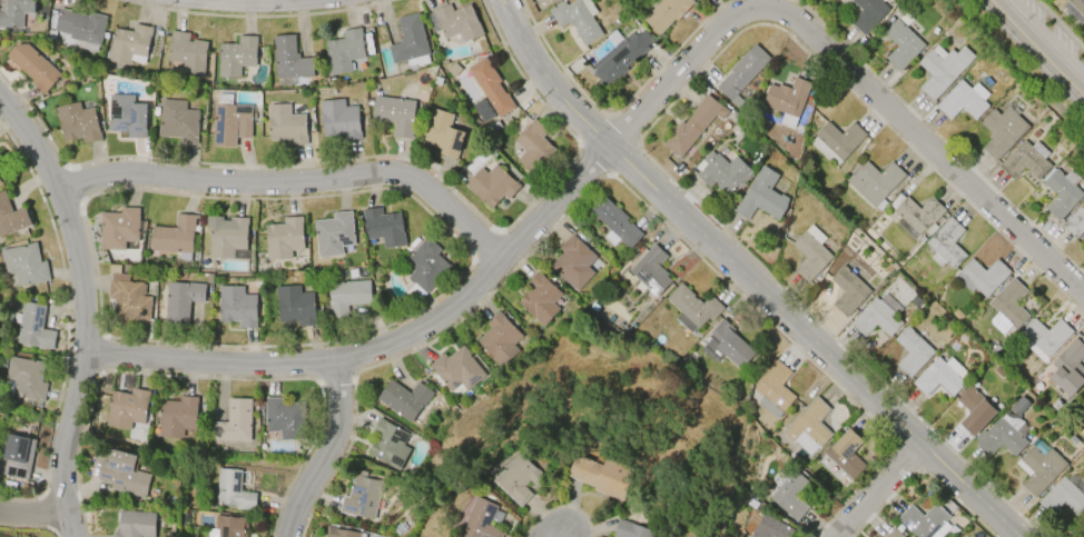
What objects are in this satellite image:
building: (1075, 8)
building: (13, 12)
building: (666, 13)
building: (867, 13)
building: (578, 19)
building: (455, 21)
building: (80, 28)
building: (410, 42)
building: (127, 43)
road: (1041, 43)
building: (901, 44)
building: (344, 50)
building: (185, 54)
building: (236, 57)
building: (620, 57)
building: (288, 59)
building: (33, 67)
building: (940, 69)
building: (742, 73)
building: (490, 87)
building: (787, 100)
building: (963, 100)
building: (395, 113)
building: (127, 116)
building: (338, 119)
building: (178, 121)
building: (77, 122)
building: (231, 123)
building: (285, 125)
building: (691, 126)
building: (1002, 131)
building: (443, 135)
building: (836, 141)
building: (532, 147)
road: (934, 153)
building: (1025, 160)
building: (722, 171)
road: (297, 178)
building: (874, 181)
building: (491, 186)
building: (1061, 192)
building: (761, 196)
building: (917, 213)
building: (11, 217)
building: (1075, 221)
building: (613, 222)
building: (384, 227)
building: (119, 228)
building: (333, 233)
building: (174, 236)
building: (226, 236)
building: (283, 238)
building: (946, 245)
building: (810, 253)
building: (573, 262)
building: (23, 263)
building: (423, 269)
building: (650, 270)
building: (980, 277)
road: (746, 278)
road: (477, 281)
building: (847, 290)
building: (127, 297)
building: (345, 298)
building: (539, 298)
building: (181, 300)
building: (237, 306)
building: (295, 306)
road: (82, 307)
building: (1007, 307)
building: (691, 308)
building: (875, 318)
building: (31, 327)
building: (1046, 336)
building: (499, 339)
building: (726, 345)
building: (910, 351)
building: (1068, 367)
building: (456, 369)
building: (940, 377)
building: (23, 379)
building: (773, 389)
building: (1083, 391)
building: (403, 399)
building: (1083, 404)
building: (1019, 405)
building: (127, 408)
building: (975, 410)
building: (176, 416)
building: (285, 418)
building: (234, 420)
building: (808, 427)
building: (999, 438)
building: (387, 441)
road: (329, 451)
building: (846, 454)
building: (17, 456)
building: (1038, 469)
building: (124, 474)
building: (602, 476)
building: (516, 478)
building: (233, 490)
road: (879, 490)
building: (789, 496)
building: (361, 497)
building: (1062, 498)
road: (31, 510)
building: (1083, 517)
building: (479, 520)
building: (924, 520)
building: (135, 524)
building: (229, 526)
building: (770, 528)
building: (630, 529)
building: (342, 533)
building: (894, 534)
road: (560, 535)

